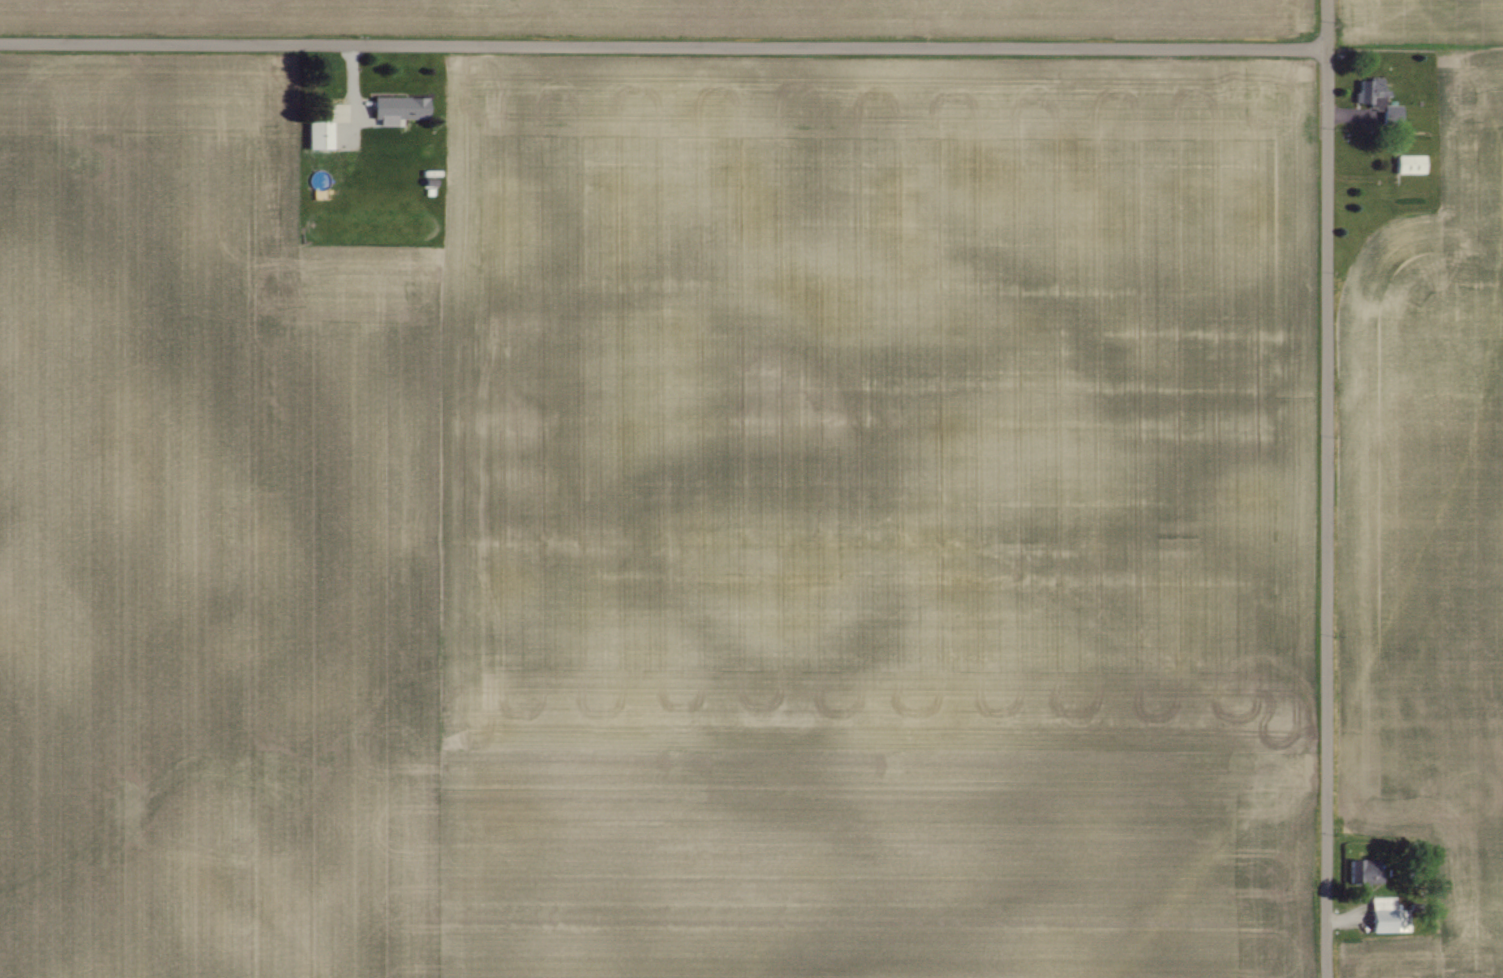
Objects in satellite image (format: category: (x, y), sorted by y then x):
road: (661, 45)
building: (1367, 90)
building: (397, 110)
building: (317, 136)
building: (1408, 164)
road: (1323, 489)
building: (1386, 916)

